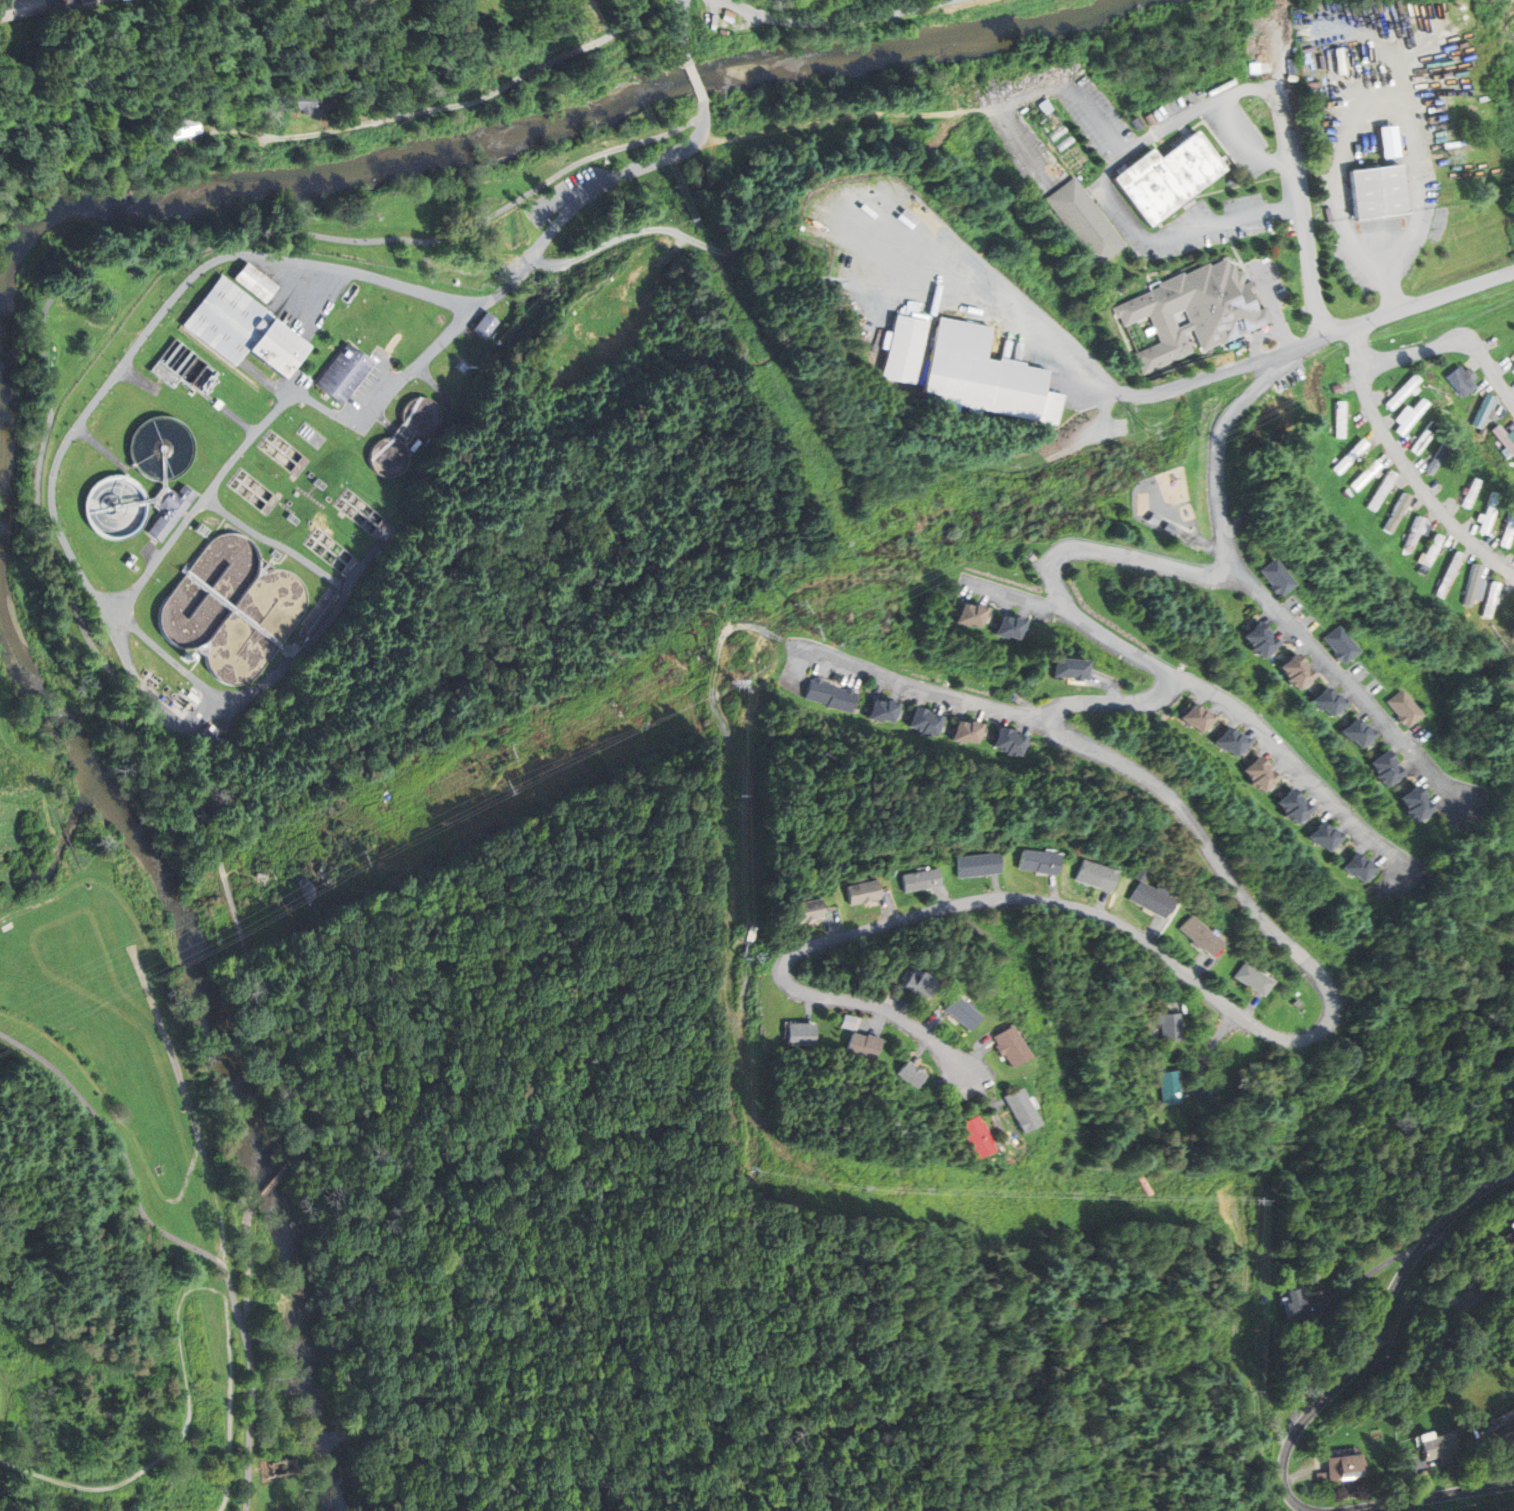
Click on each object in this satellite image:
building: (85, 1)
building: (94, 1)
building: (461, 7)
building: (18, 8)
road: (833, 21)
road: (684, 32)
road: (698, 82)
road: (1249, 88)
road: (1038, 89)
road: (498, 90)
building: (302, 100)
road: (1365, 119)
river: (539, 123)
road: (1290, 126)
building: (183, 127)
road: (310, 135)
road: (1249, 142)
building: (1169, 177)
building: (1379, 192)
parking lot: (568, 197)
road: (1130, 219)
building: (415, 222)
building: (1086, 222)
road: (1229, 231)
building: (338, 249)
road: (1306, 249)
road: (735, 254)
road: (1238, 257)
road: (306, 264)
building: (254, 282)
road: (990, 301)
road: (1421, 304)
road: (1272, 307)
building: (1195, 311)
building: (486, 325)
building: (241, 330)
road: (1451, 344)
building: (905, 347)
building: (1513, 367)
building: (345, 372)
road: (1221, 372)
building: (987, 375)
building: (1459, 381)
road: (268, 382)
road: (1079, 388)
building: (1336, 388)
building: (1397, 395)
road: (278, 407)
building: (1482, 412)
road: (49, 416)
building: (1337, 419)
building: (1405, 422)
power tower: (1147, 430)
road: (1093, 436)
building: (1420, 439)
building: (402, 440)
building: (1503, 440)
building: (1437, 455)
building: (1347, 456)
wastewater plant: (253, 463)
road: (1406, 468)
power tower: (1142, 473)
building: (1364, 476)
building: (1380, 491)
building: (1346, 493)
building: (1469, 493)
building: (120, 508)
building: (170, 509)
building: (1396, 512)
building: (1155, 518)
building: (1484, 520)
building: (1170, 527)
building: (1413, 534)
building: (1504, 536)
road: (1109, 552)
building: (1429, 554)
road: (363, 566)
building: (1447, 574)
road: (852, 575)
building: (1278, 577)
building: (1470, 584)
road: (1017, 593)
building: (1489, 598)
power tower: (804, 605)
building: (966, 614)
building: (979, 615)
building: (1007, 626)
building: (1019, 628)
power tower: (816, 632)
building: (1259, 634)
building: (1341, 644)
building: (1267, 646)
road: (163, 653)
building: (184, 656)
silo: (184, 656)
road: (295, 663)
building: (1295, 665)
building: (1072, 668)
building: (1303, 677)
road: (1347, 682)
road: (915, 688)
park: (479, 690)
building: (820, 691)
building: (1326, 698)
building: (843, 699)
building: (1336, 705)
building: (1405, 708)
building: (878, 710)
building: (890, 711)
building: (1193, 714)
building: (919, 718)
building: (1204, 721)
building: (933, 724)
building: (1355, 729)
building: (962, 731)
building: (975, 732)
river: (70, 736)
building: (1365, 737)
building: (1228, 738)
building: (1005, 739)
building: (1239, 744)
building: (1018, 745)
power tower: (508, 751)
building: (1386, 762)
road: (1296, 763)
building: (1258, 768)
building: (1393, 774)
building: (1266, 780)
power tower: (735, 794)
road: (743, 796)
building: (1415, 796)
road: (489, 798)
building: (1291, 800)
building: (1422, 809)
building: (1299, 812)
power tower: (354, 831)
building: (1322, 833)
building: (1333, 839)
building: (1039, 861)
building: (1356, 864)
building: (978, 865)
building: (1367, 871)
building: (1141, 874)
building: (1096, 875)
road: (283, 877)
building: (920, 880)
road: (996, 886)
road: (1054, 887)
building: (862, 892)
road: (943, 896)
building: (1152, 899)
road: (1103, 902)
road: (888, 907)
building: (805, 911)
road: (831, 924)
road: (1154, 929)
building: (751, 933)
building: (1201, 935)
road: (1160, 951)
road: (1198, 965)
building: (1253, 978)
building: (920, 985)
road: (1171, 988)
road: (892, 999)
road: (1251, 1005)
road: (809, 1009)
road: (164, 1011)
building: (962, 1012)
building: (849, 1022)
road: (878, 1022)
road: (935, 1022)
building: (1170, 1027)
building: (801, 1034)
building: (864, 1046)
building: (1011, 1046)
road: (920, 1050)
road: (977, 1052)
road: (1206, 1055)
road: (742, 1068)
building: (912, 1074)
building: (1172, 1088)
road: (998, 1102)
road: (989, 1105)
building: (1020, 1110)
building: (978, 1137)
power tower: (746, 1171)
road: (133, 1179)
road: (272, 1186)
river: (258, 1187)
power tower: (860, 1189)
park: (118, 1191)
power tower: (1256, 1200)
road: (1469, 1226)
building: (1511, 1240)
road: (1377, 1269)
road: (227, 1293)
building: (1475, 1304)
building: (1299, 1305)
road: (1375, 1332)
road: (179, 1339)
road: (1237, 1339)
road: (249, 1359)
power tower: (1249, 1391)
road: (4, 1408)
power tower: (1269, 1433)
building: (1433, 1449)
road: (1492, 1460)
building: (1341, 1469)
road: (1299, 1472)
road: (1410, 1479)
road: (1431, 1497)

